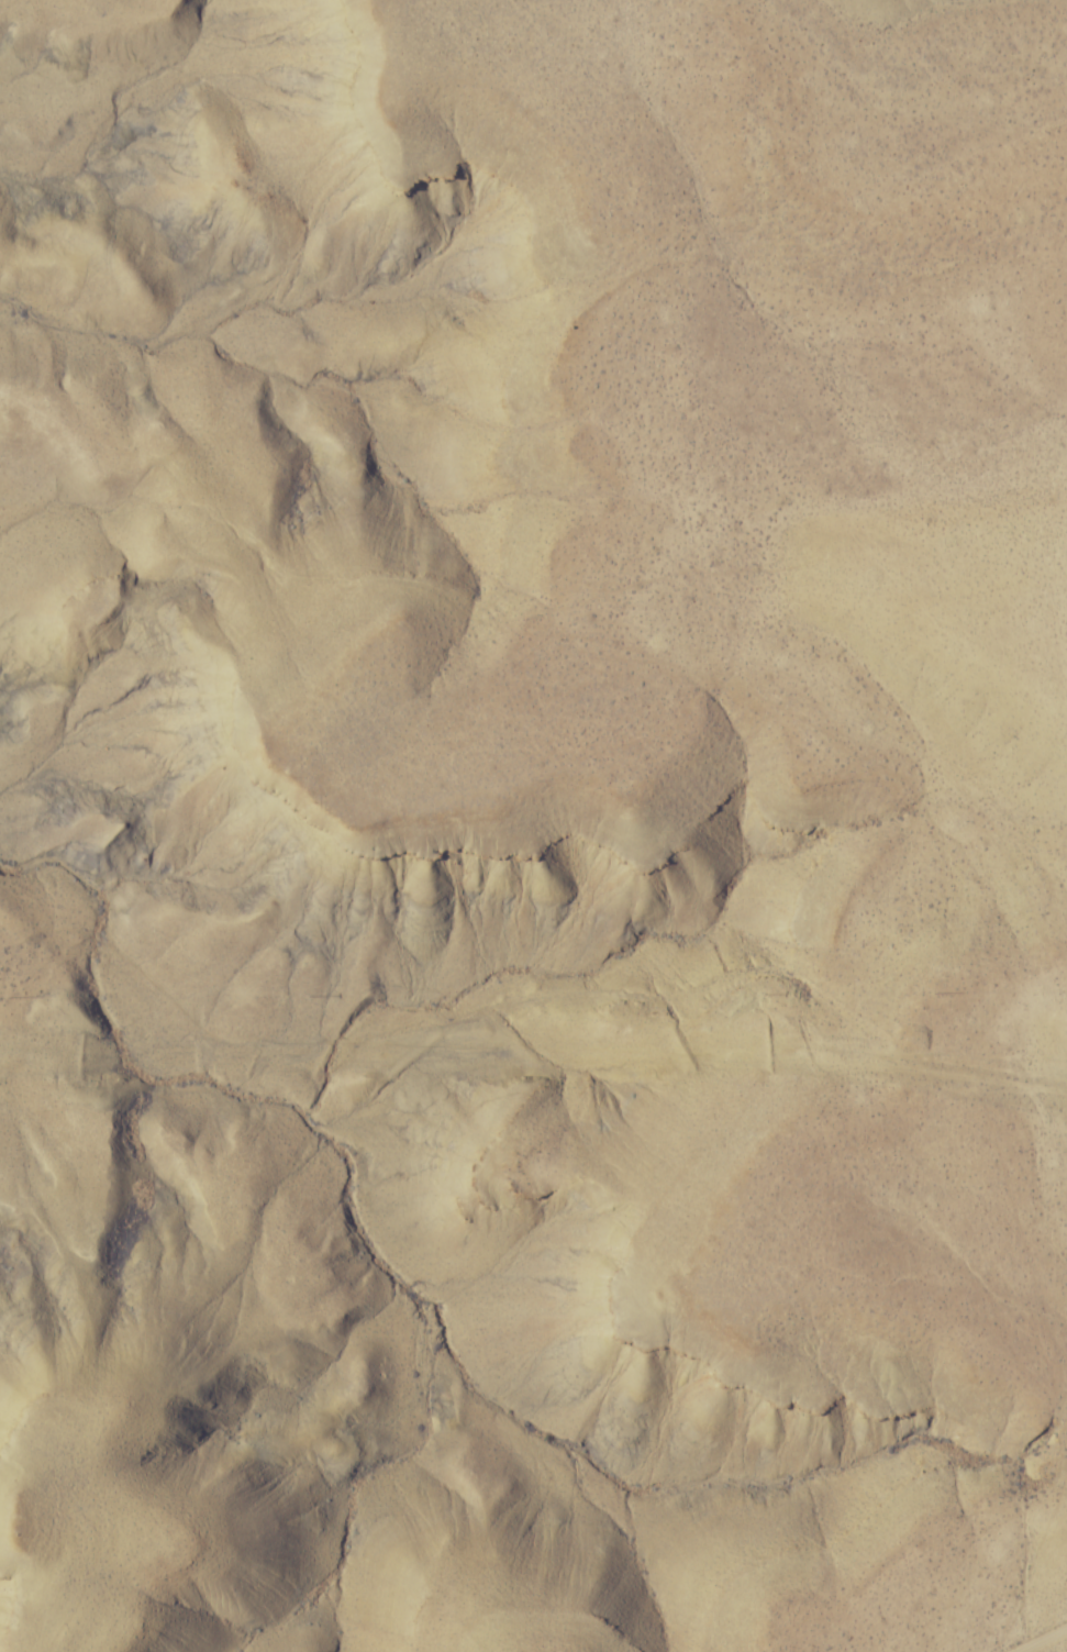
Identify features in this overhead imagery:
road: (1052, 1643)

